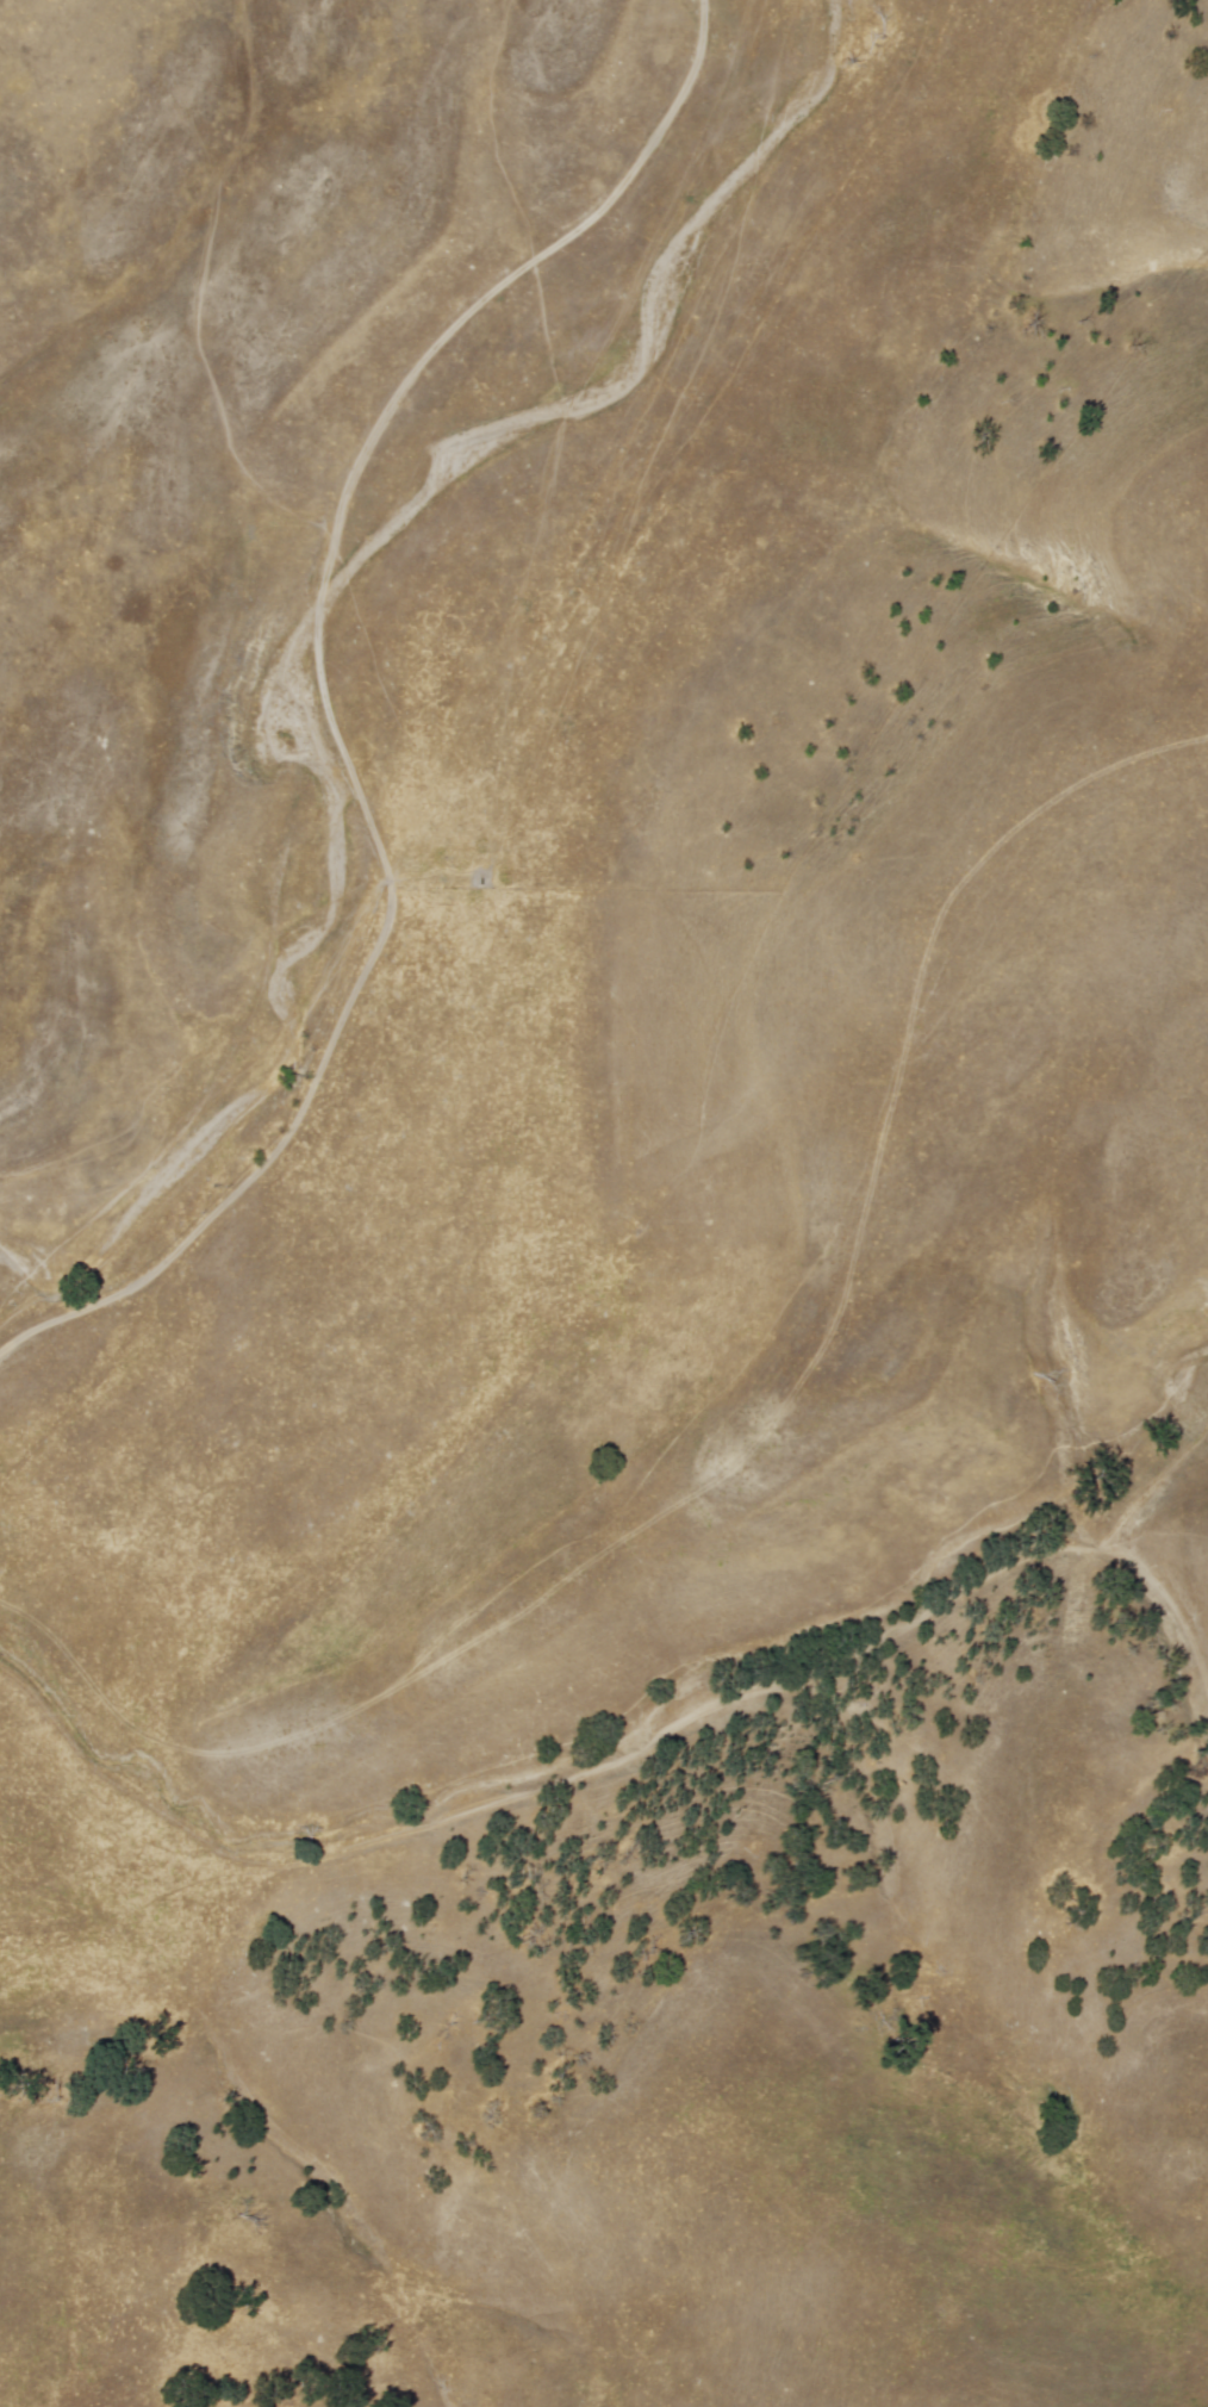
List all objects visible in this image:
road: (320, 695)
road: (619, 1770)

